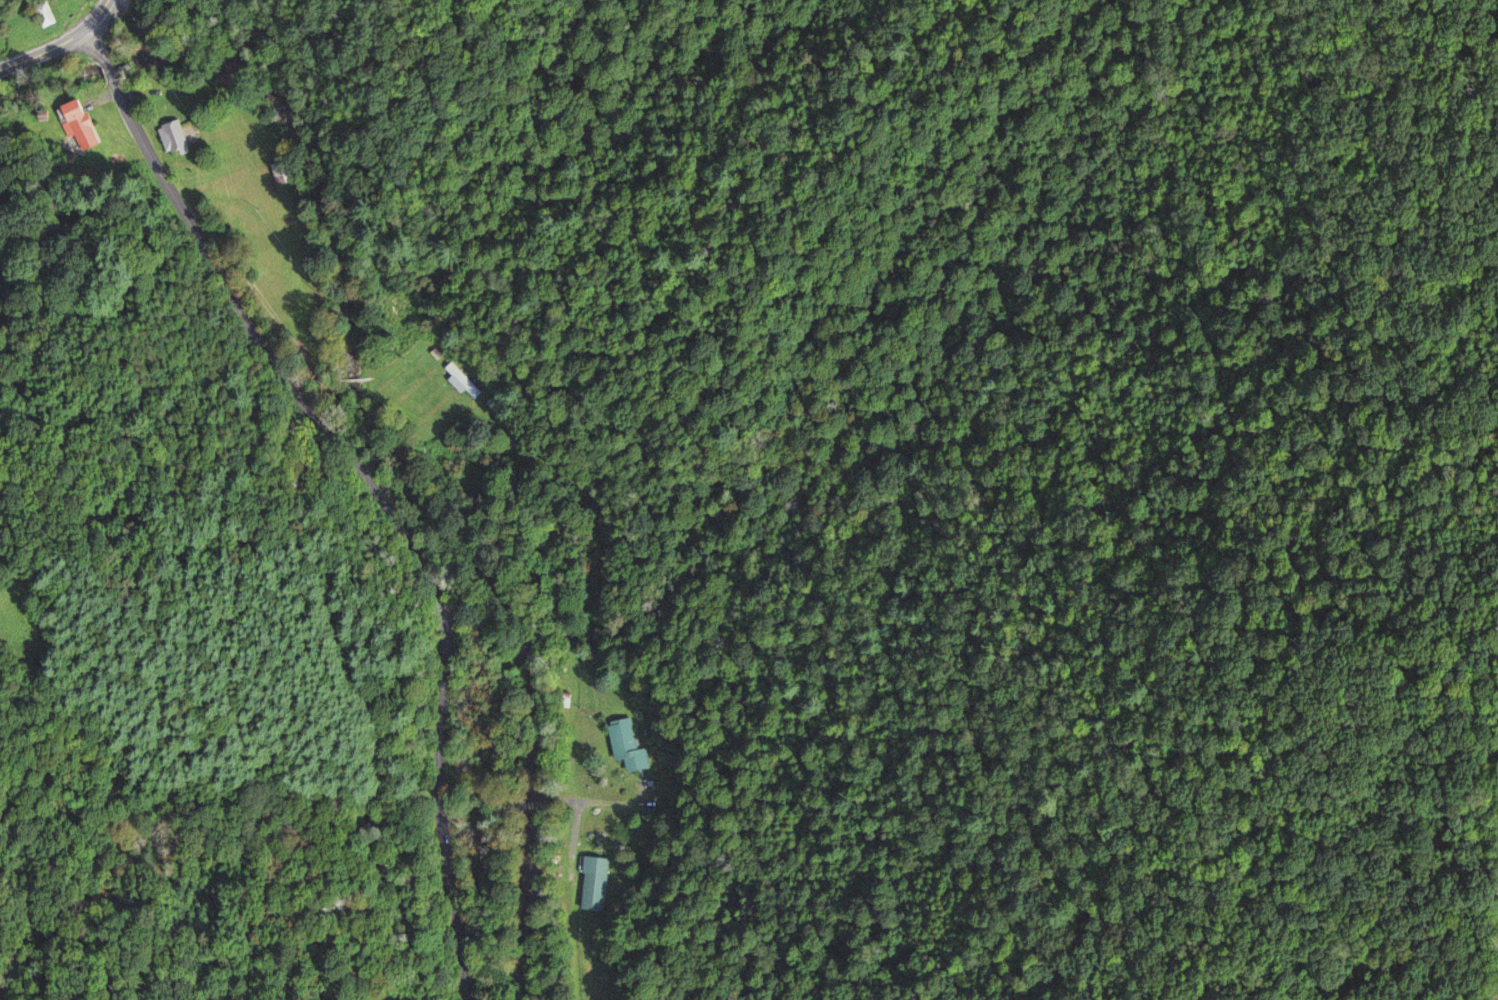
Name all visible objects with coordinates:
road: (101, 13)
road: (97, 41)
road: (47, 53)
road: (109, 68)
road: (382, 510)
road: (331, 626)
road: (535, 804)
road: (609, 805)
road: (478, 815)

